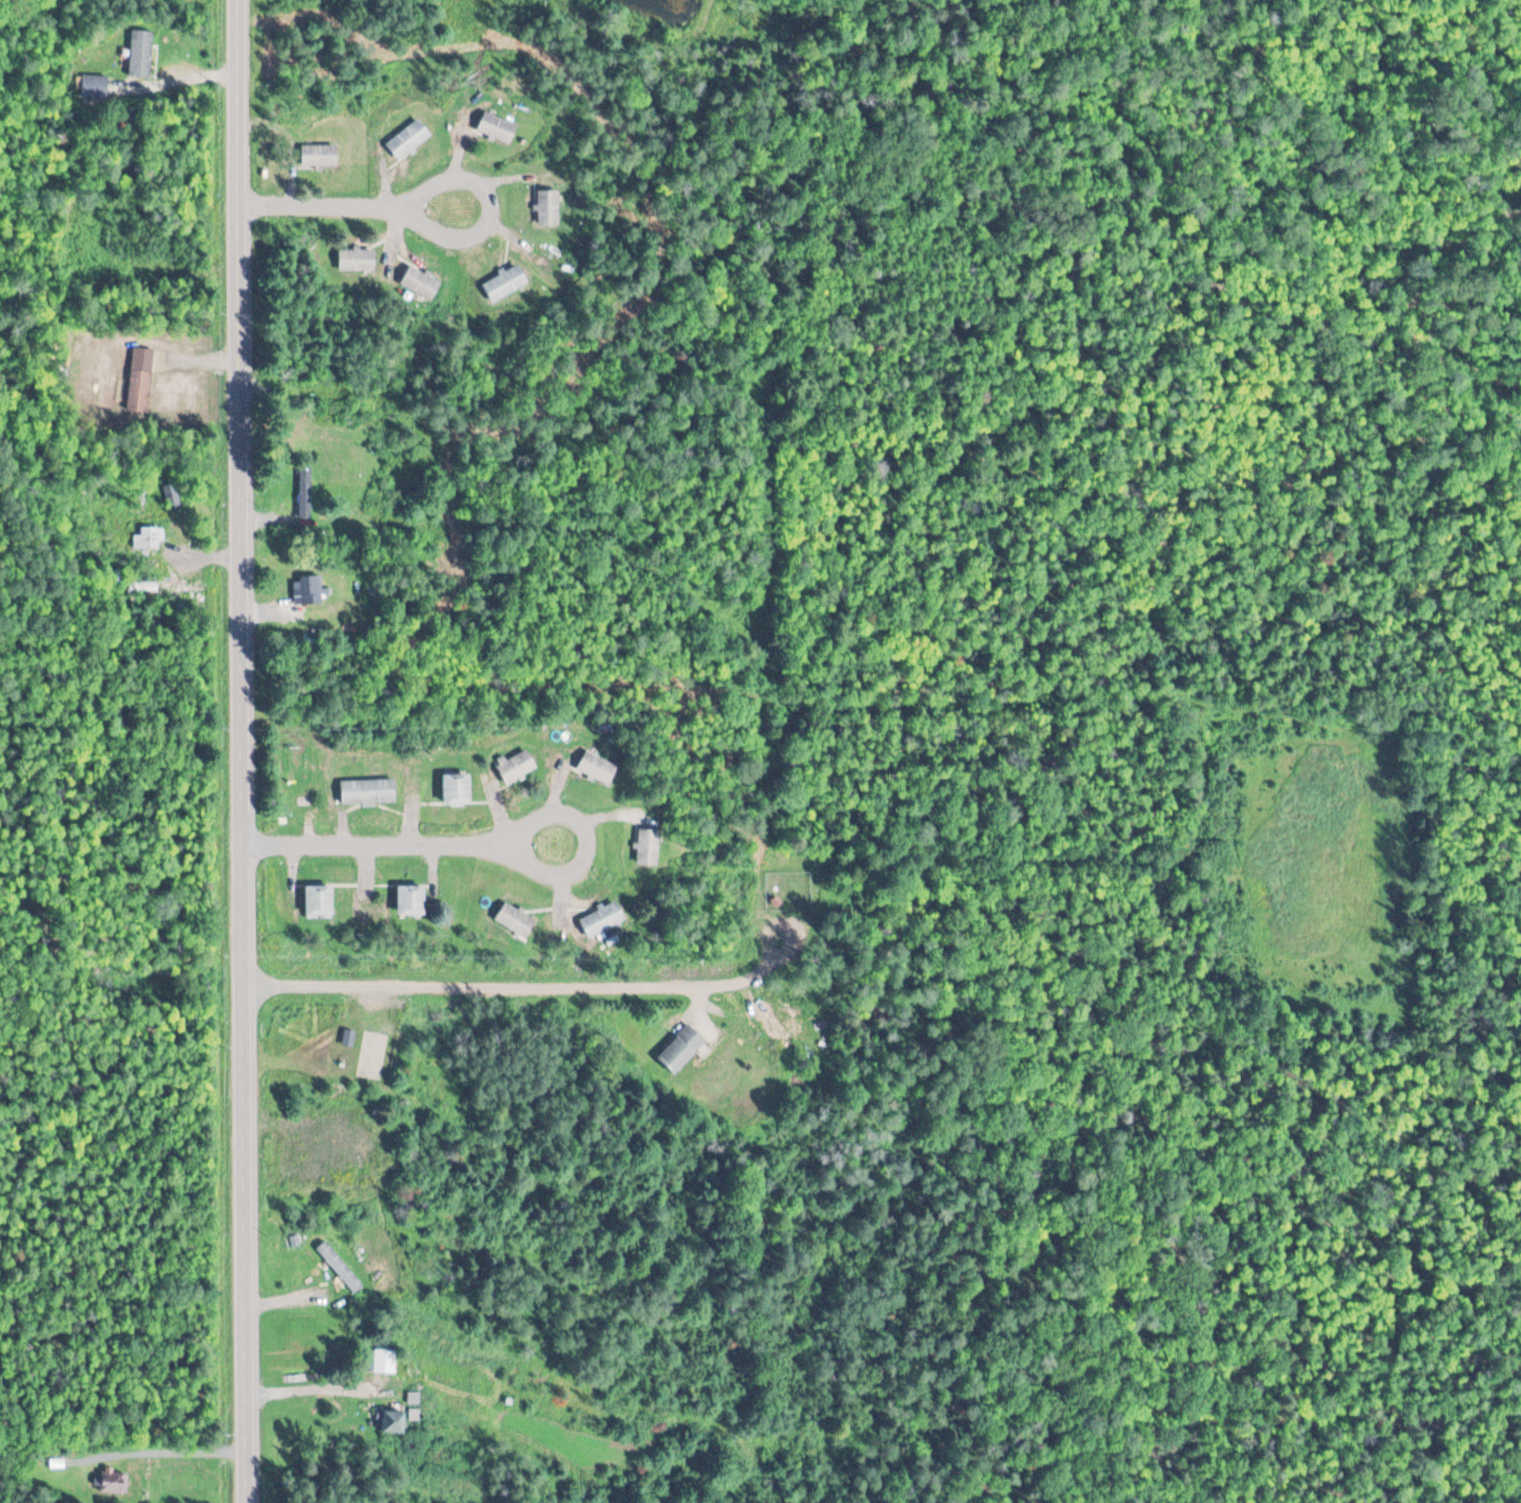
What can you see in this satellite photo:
building: (141, 54)
building: (94, 85)
building: (498, 128)
building: (409, 140)
building: (320, 156)
road: (322, 207)
building: (548, 208)
road: (496, 218)
building: (358, 259)
building: (422, 282)
building: (505, 284)
building: (173, 496)
building: (305, 497)
building: (149, 539)
building: (309, 590)
road: (244, 751)
building: (517, 767)
building: (598, 768)
building: (457, 789)
building: (369, 792)
road: (361, 842)
building: (648, 847)
road: (550, 867)
building: (412, 899)
building: (320, 900)
building: (516, 919)
building: (603, 919)
road: (530, 988)
building: (681, 1049)
building: (340, 1266)
building: (385, 1361)
building: (394, 1420)
building: (112, 1481)

